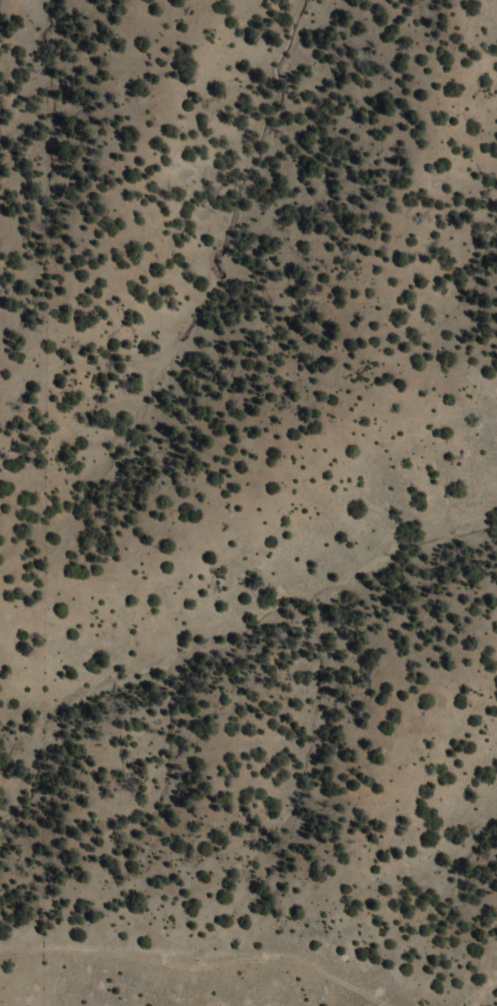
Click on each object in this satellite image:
road: (190, 965)
road: (487, 996)

